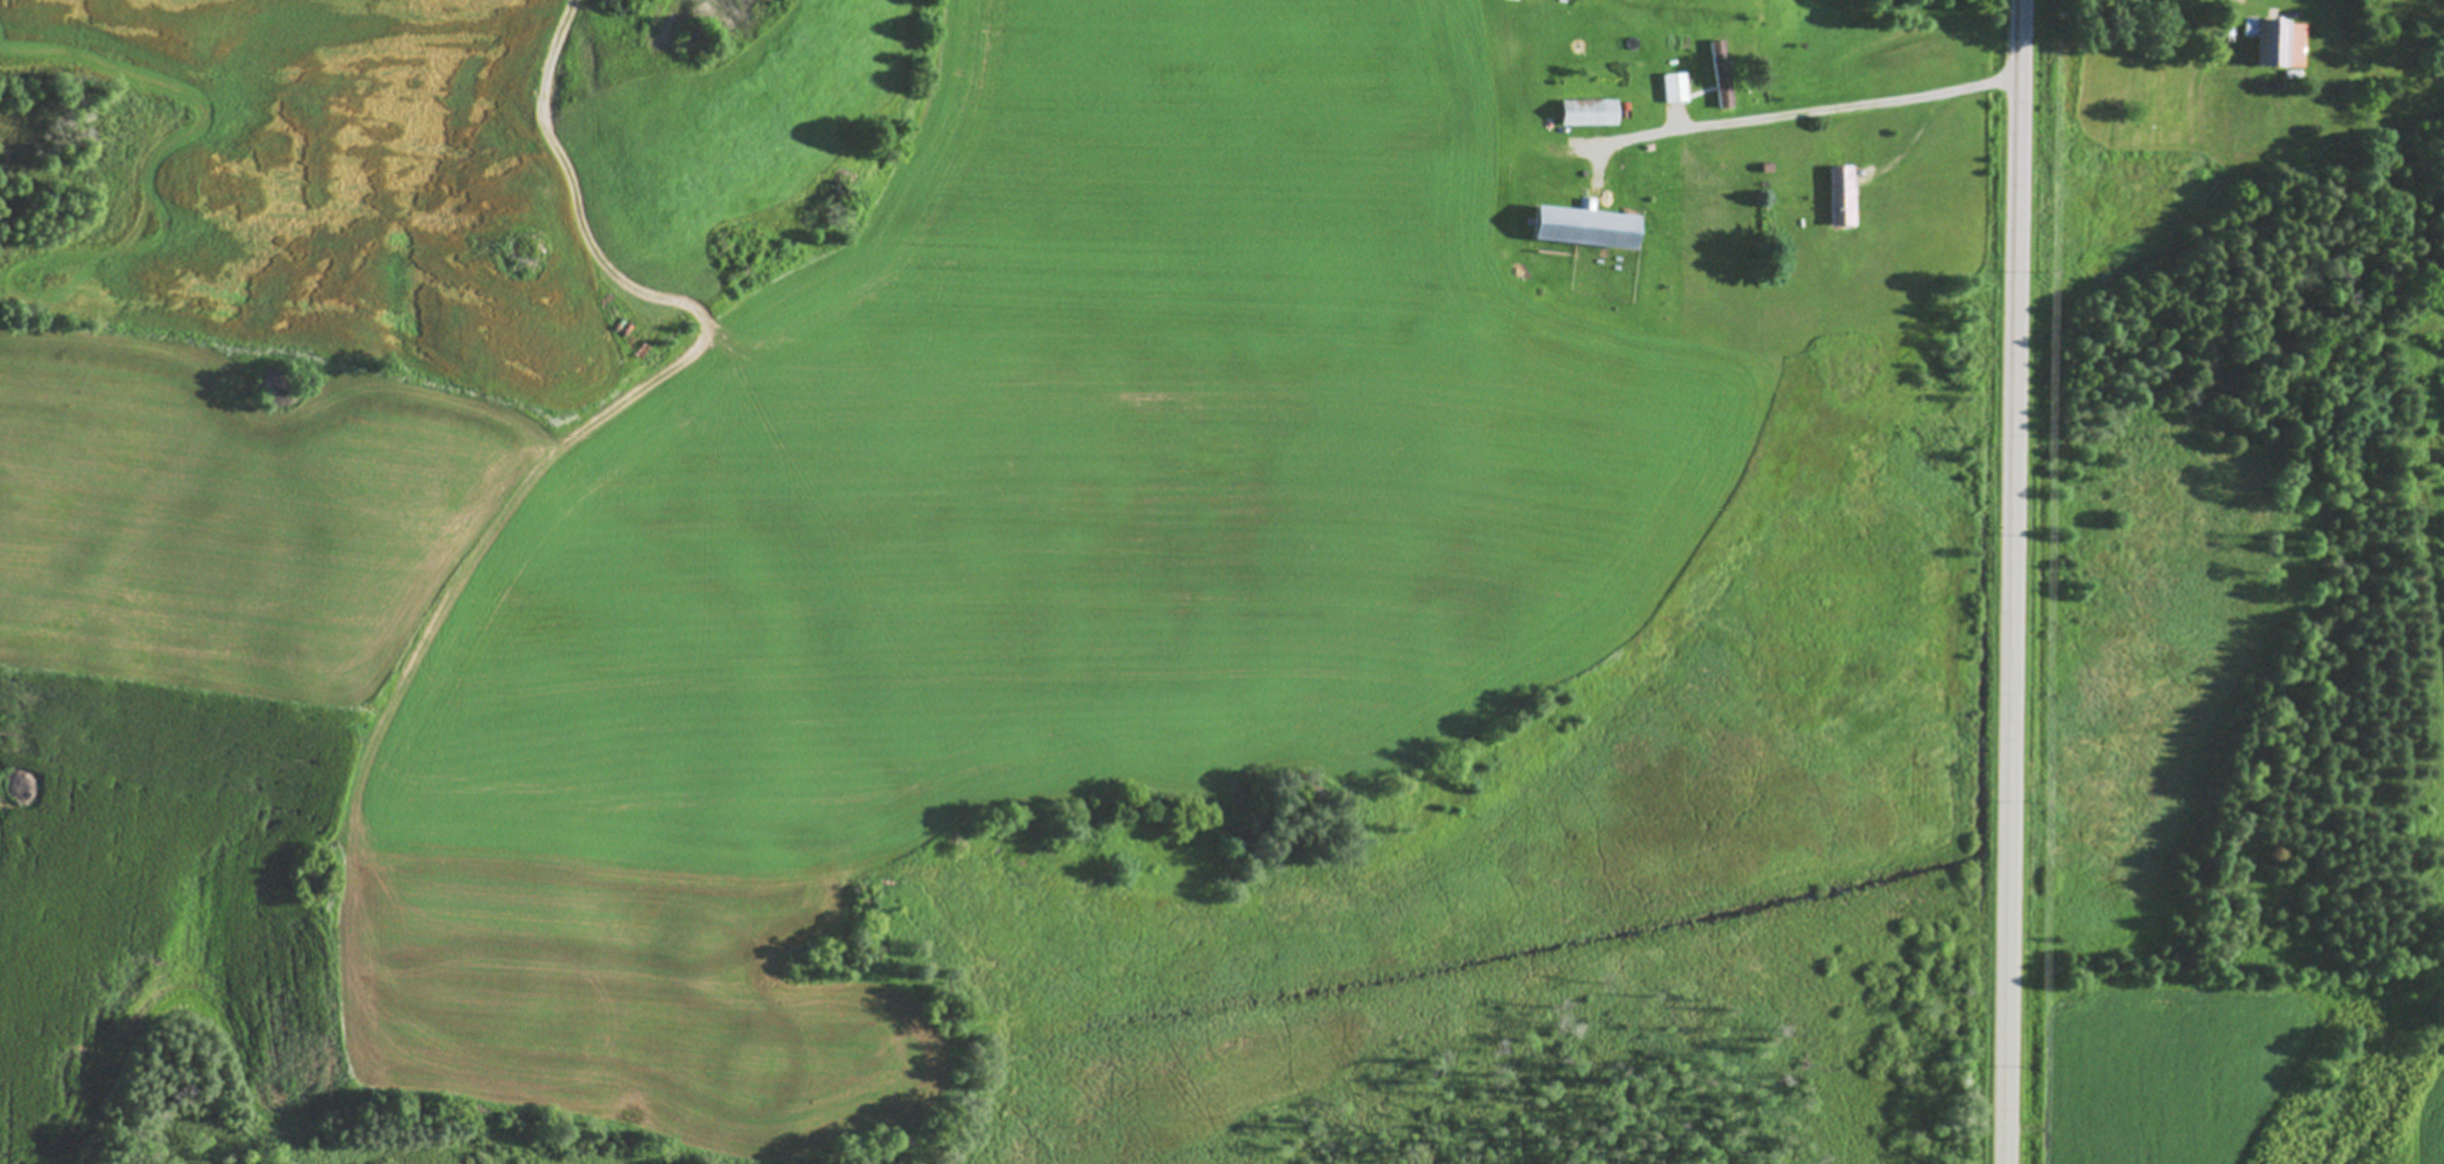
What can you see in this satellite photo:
building: (2278, 42)
building: (1721, 75)
building: (1675, 89)
road: (1811, 110)
building: (1590, 112)
building: (1843, 196)
building: (1586, 227)
road: (2011, 581)

